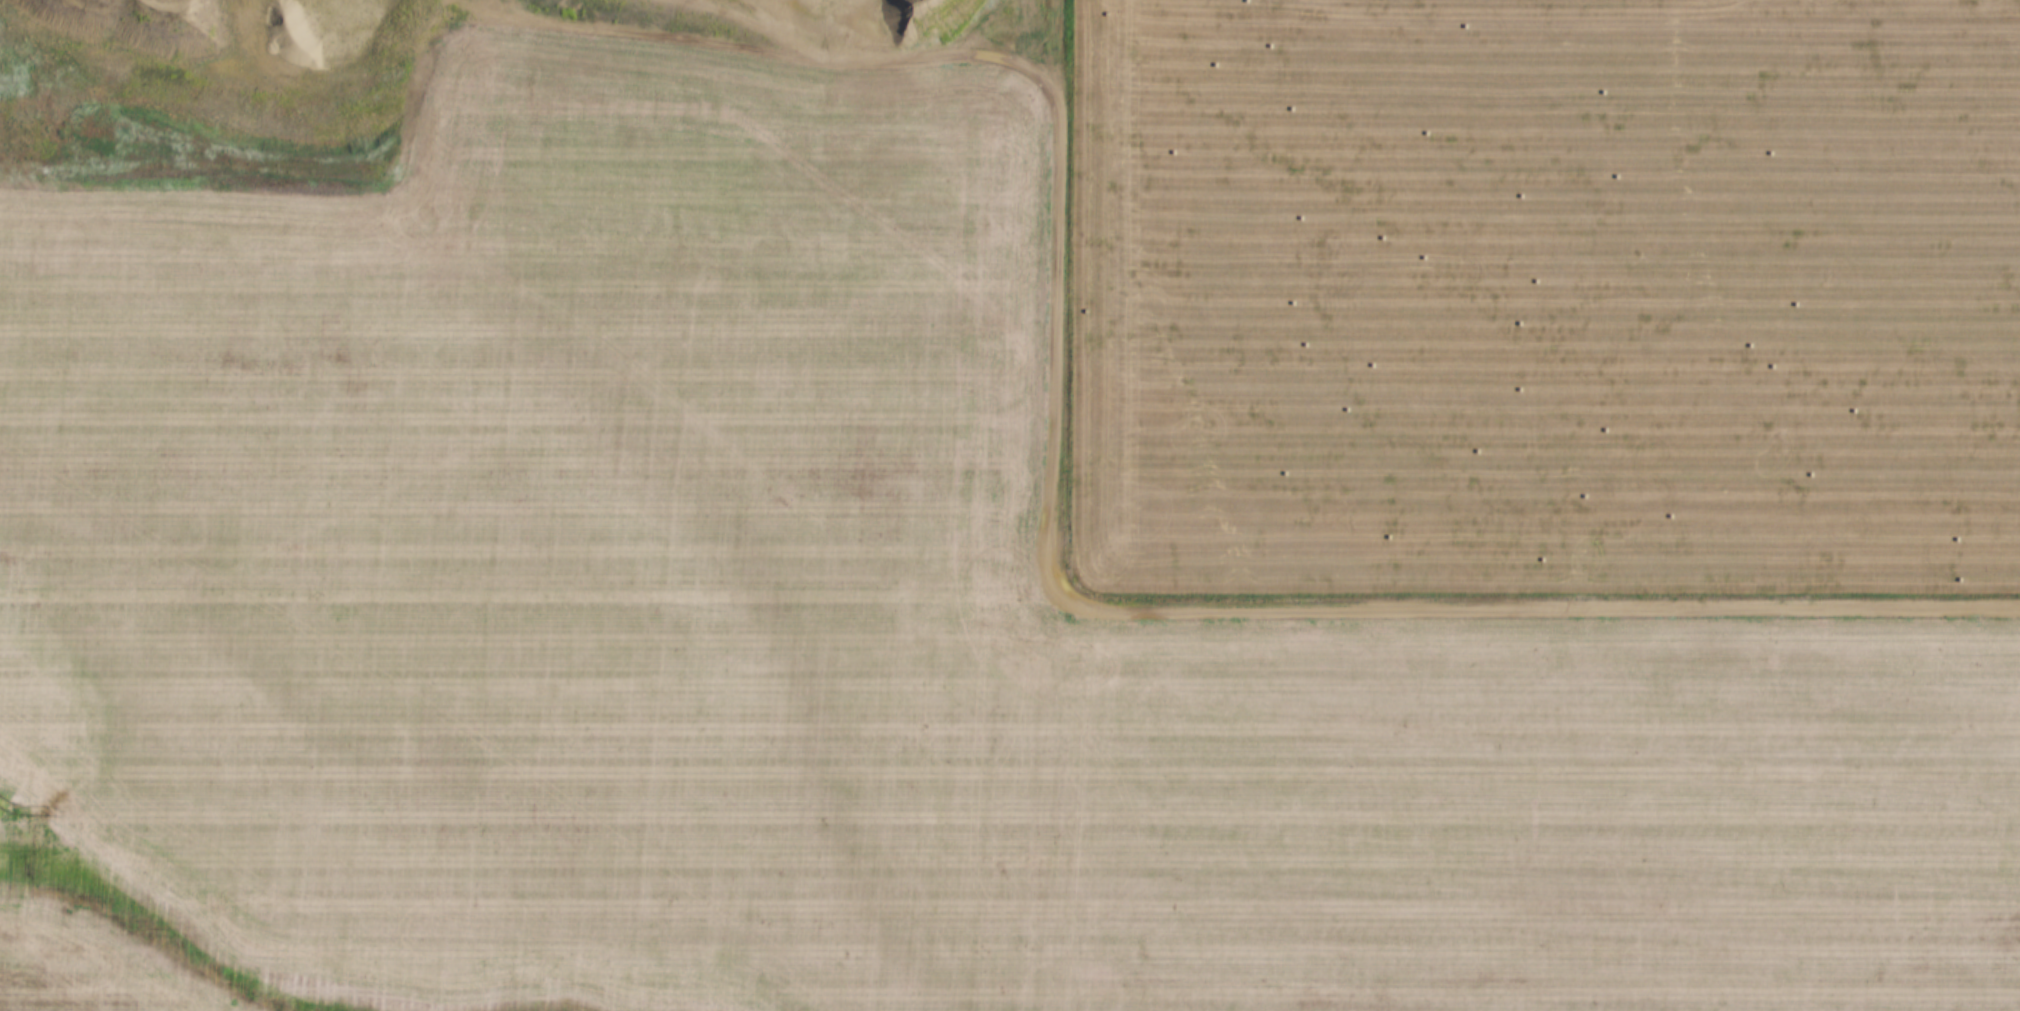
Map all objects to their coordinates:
quarry: (377, 72)
road: (1051, 293)
road: (1534, 593)
road: (525, 618)
road: (1050, 799)

